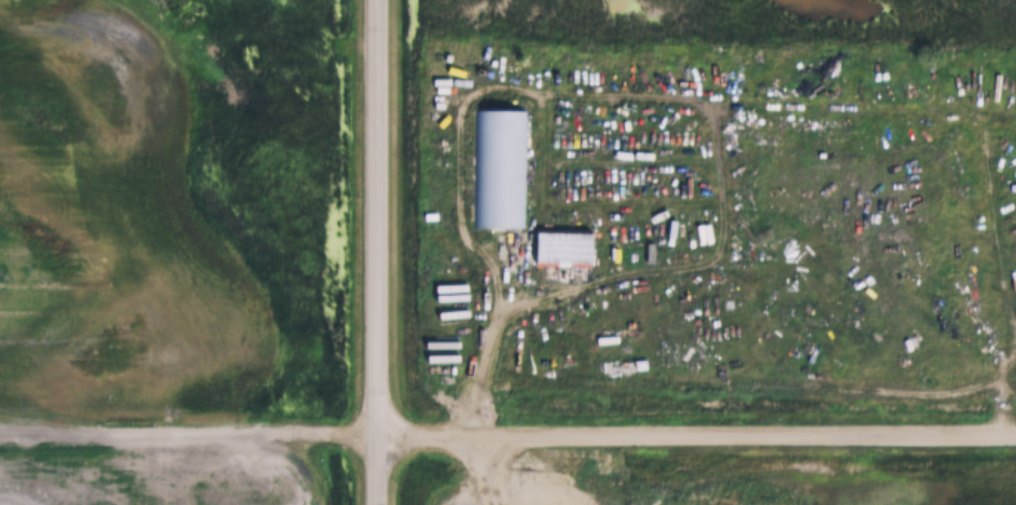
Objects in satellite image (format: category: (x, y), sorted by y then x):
road: (686, 91)
building: (499, 169)
building: (699, 235)
building: (561, 250)
road: (375, 252)
road: (483, 361)
building: (620, 367)
road: (738, 382)
road: (1000, 389)
road: (695, 429)
road: (187, 433)
road: (485, 467)

